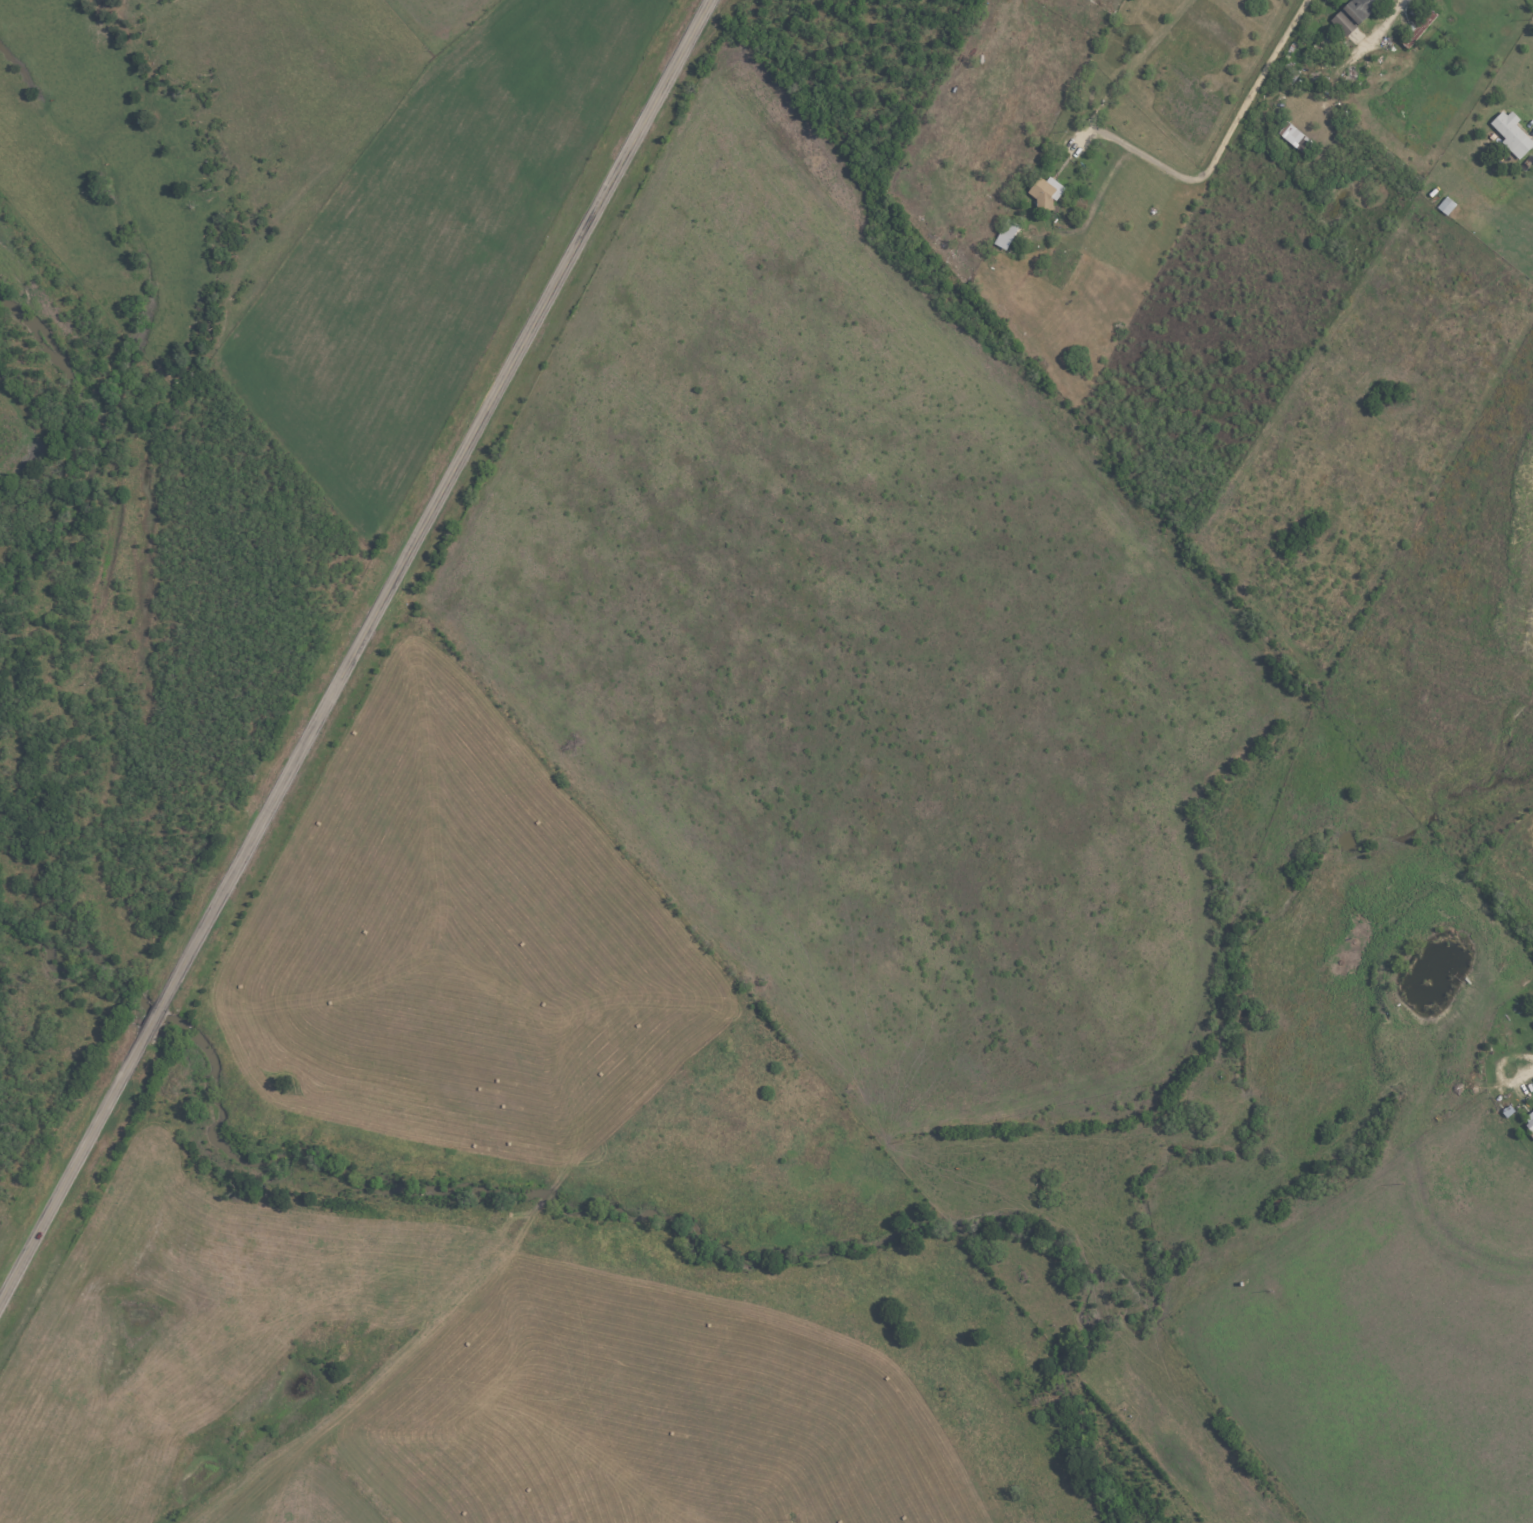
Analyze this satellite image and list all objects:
building: (1353, 15)
building: (1419, 29)
building: (1511, 133)
building: (1293, 136)
road: (1219, 151)
building: (1045, 192)
building: (1447, 206)
road: (1089, 209)
road: (355, 653)
building: (1529, 1121)

